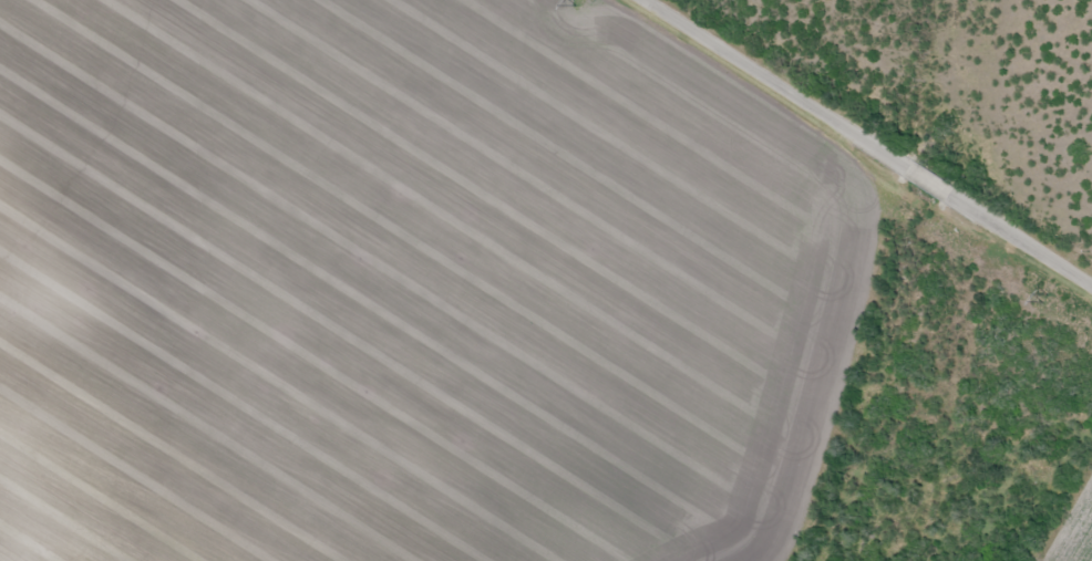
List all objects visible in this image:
power tower: (577, 3)
road: (878, 135)
power tower: (1044, 301)

